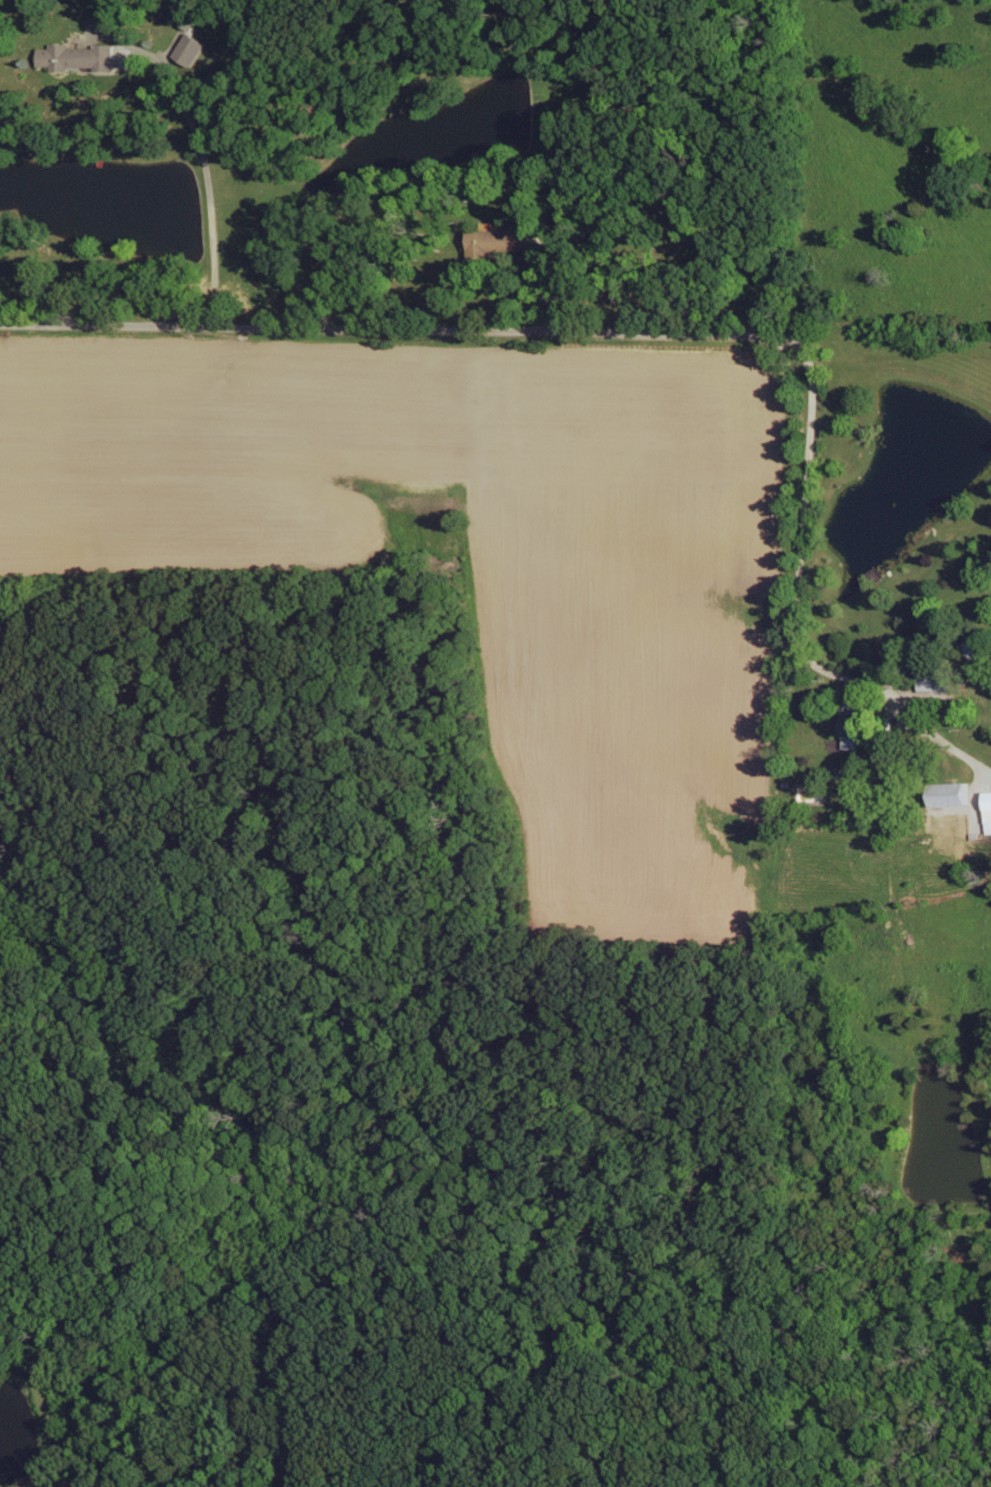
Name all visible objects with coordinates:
building: (79, 59)
road: (198, 180)
road: (635, 331)
building: (853, 718)
building: (956, 796)
building: (989, 811)

